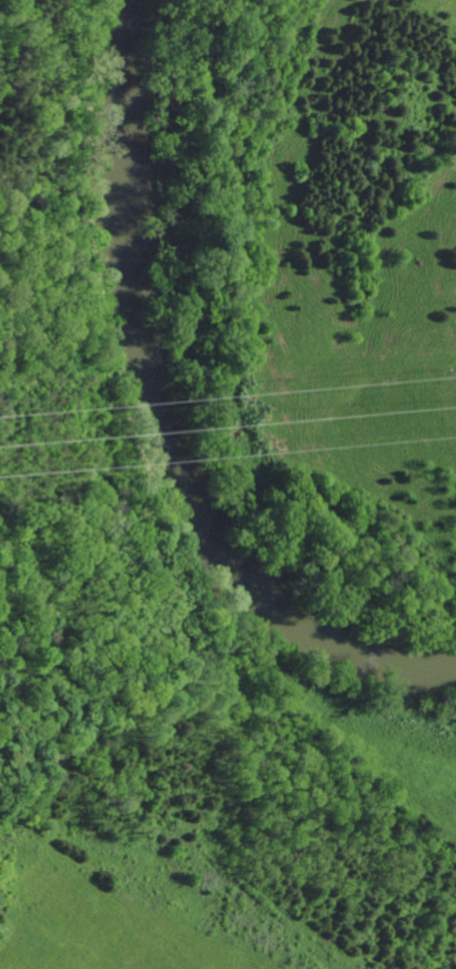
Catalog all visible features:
river: (151, 416)

